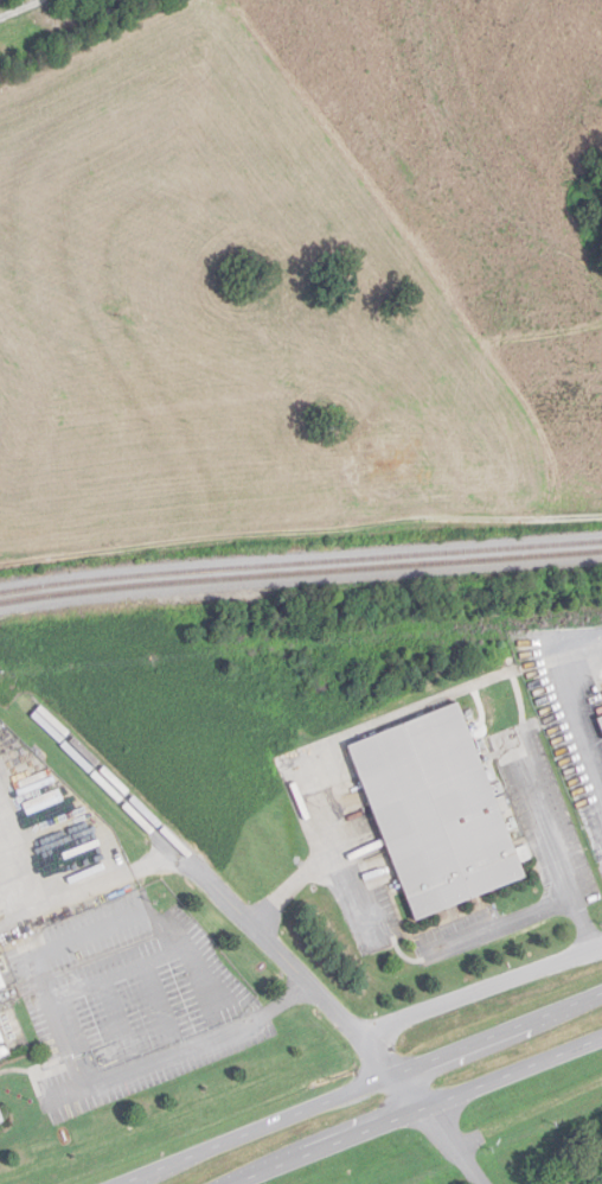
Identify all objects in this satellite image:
building: (378, 470)
road: (166, 531)
railway: (300, 564)
railway: (300, 574)
road: (575, 712)
building: (601, 718)
building: (438, 813)
road: (552, 846)
road: (322, 864)
road: (65, 892)
road: (500, 925)
road: (287, 962)
building: (2, 979)
road: (481, 989)
road: (63, 1025)
building: (4, 1045)
road: (364, 1088)
road: (422, 1114)
building: (1, 1116)
road: (440, 1129)
road: (478, 1133)

